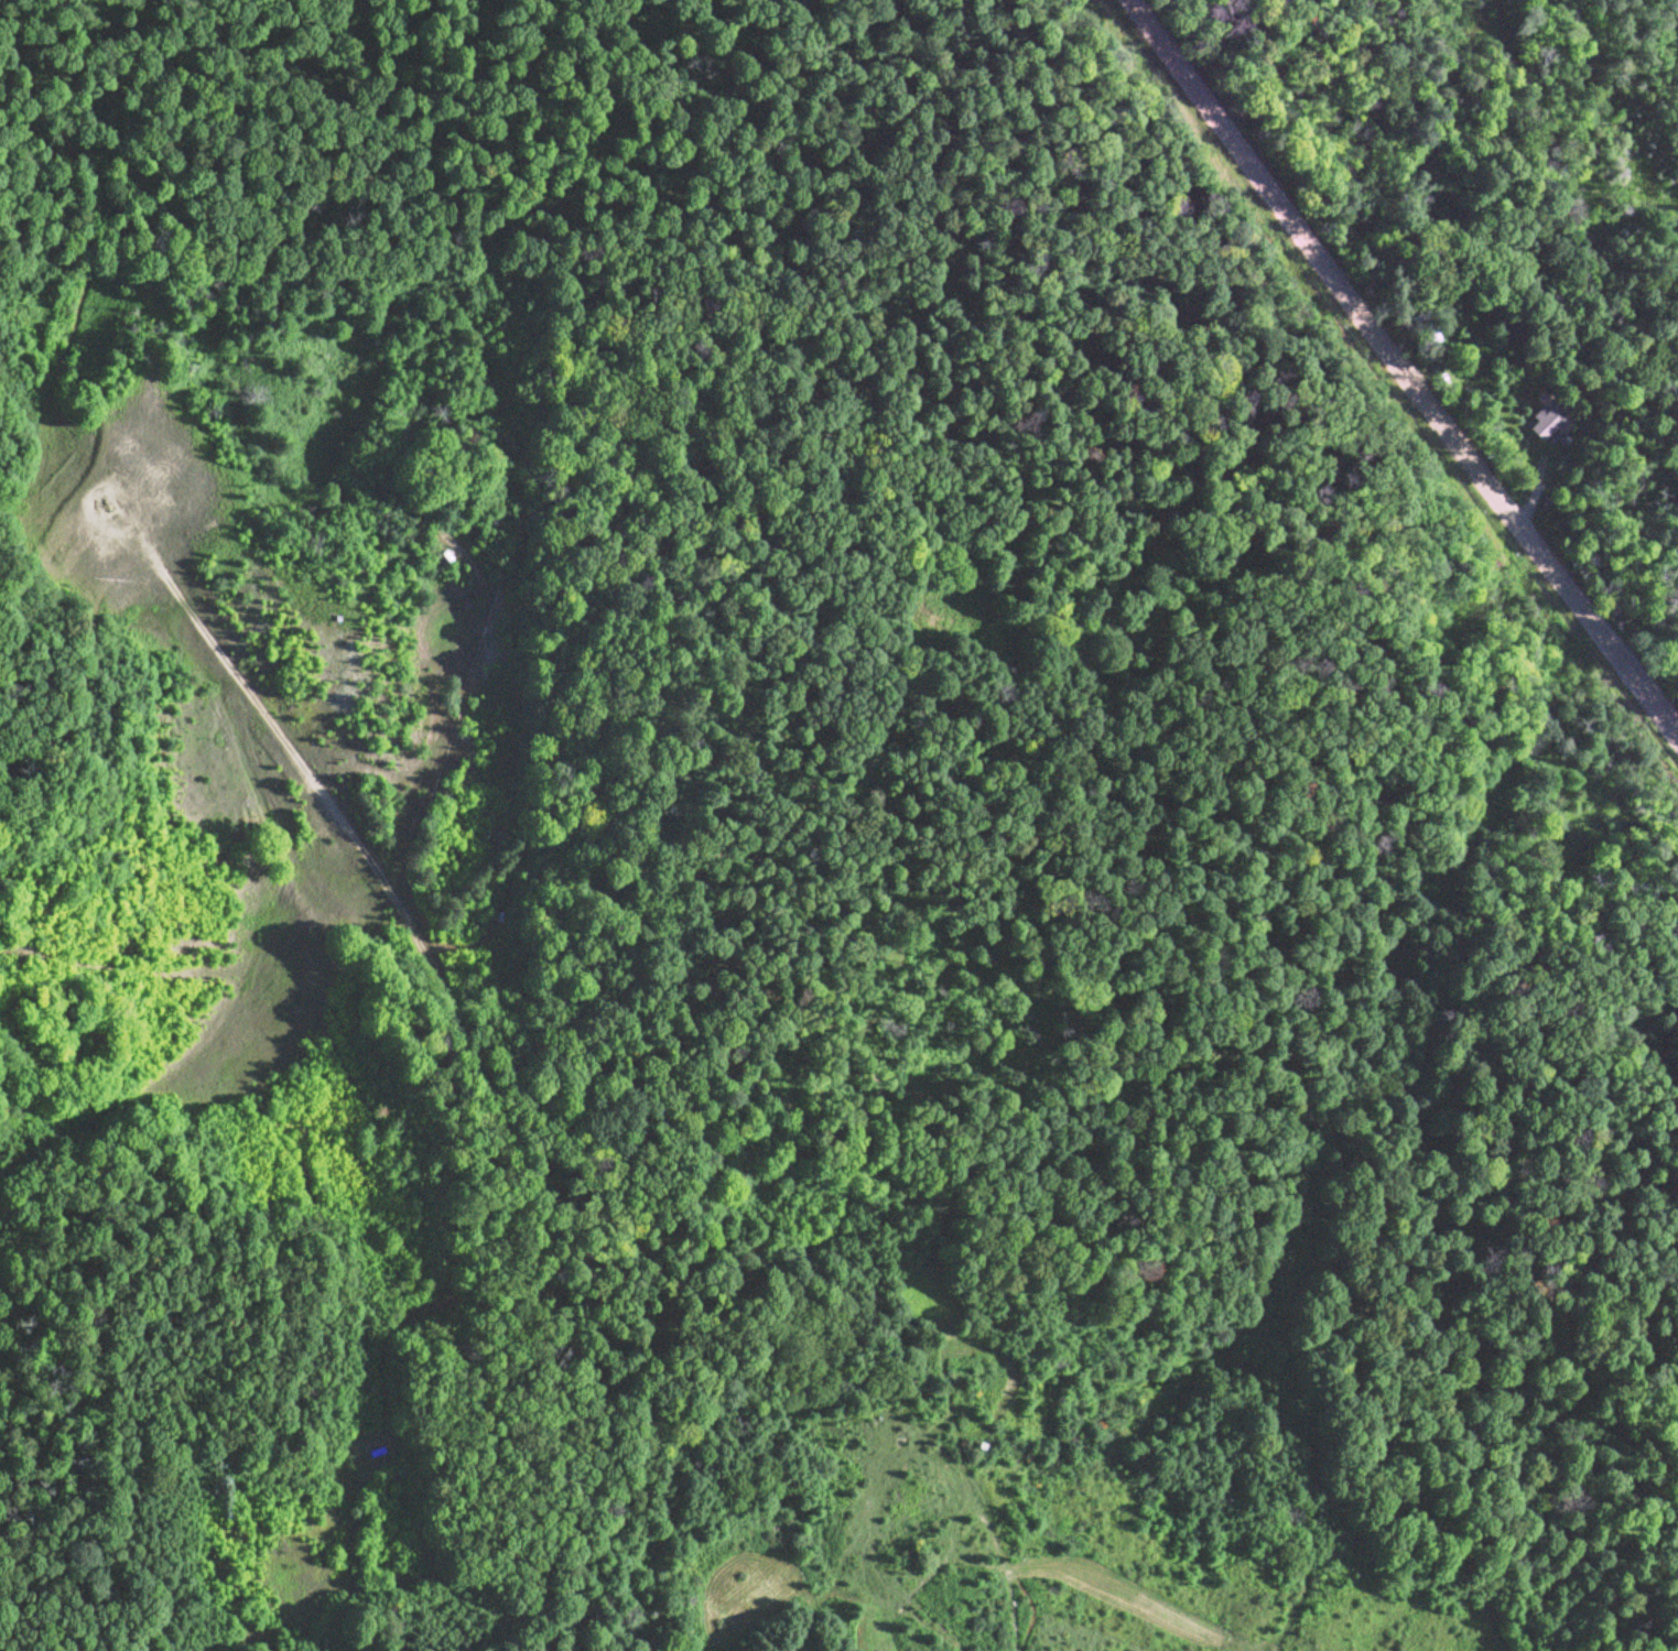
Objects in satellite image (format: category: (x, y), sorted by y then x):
road: (1392, 376)
building: (1548, 419)
road: (88, 491)
petroleum well: (101, 506)
road: (474, 1063)

